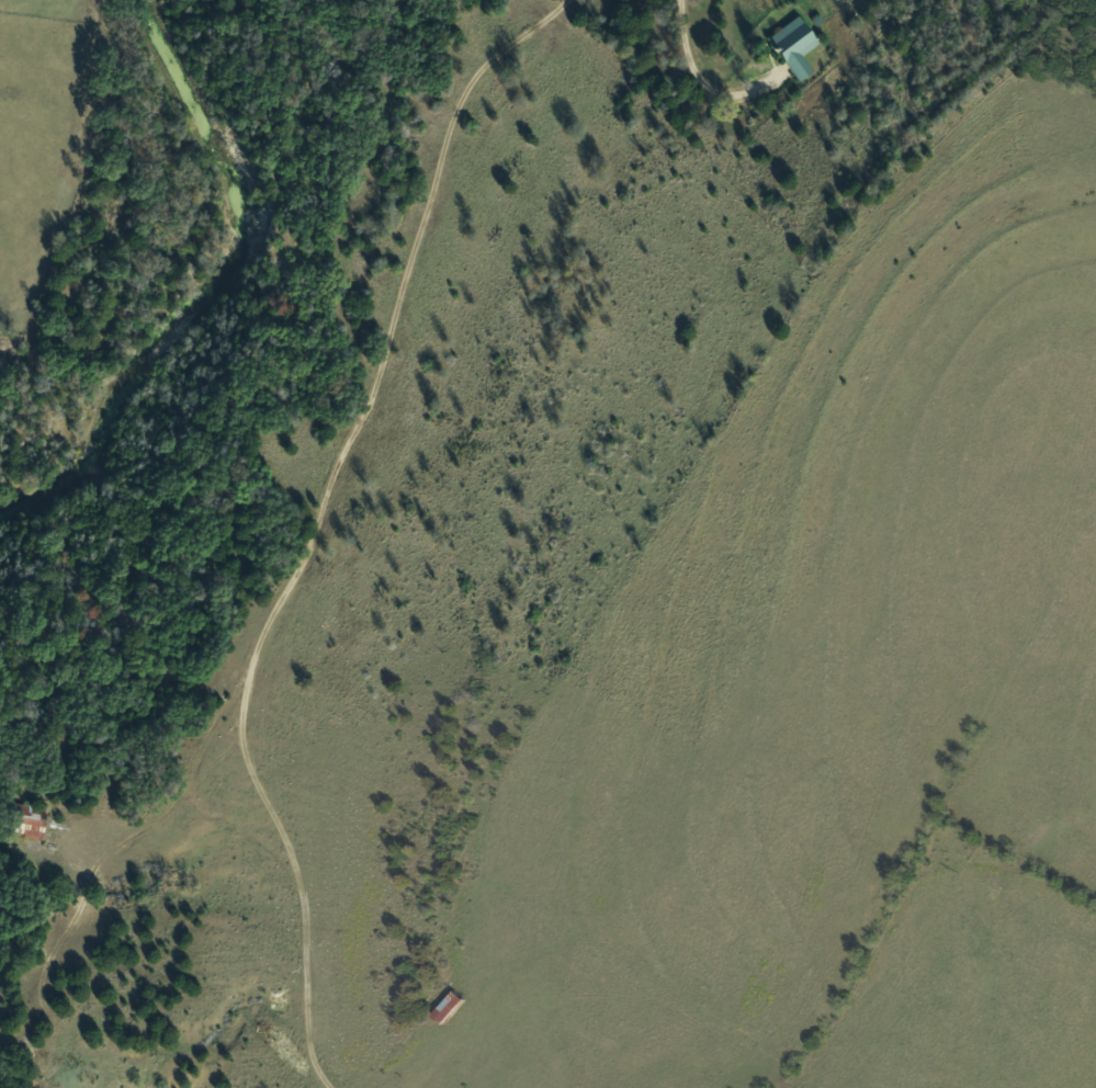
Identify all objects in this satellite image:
building: (793, 46)
road: (689, 82)

